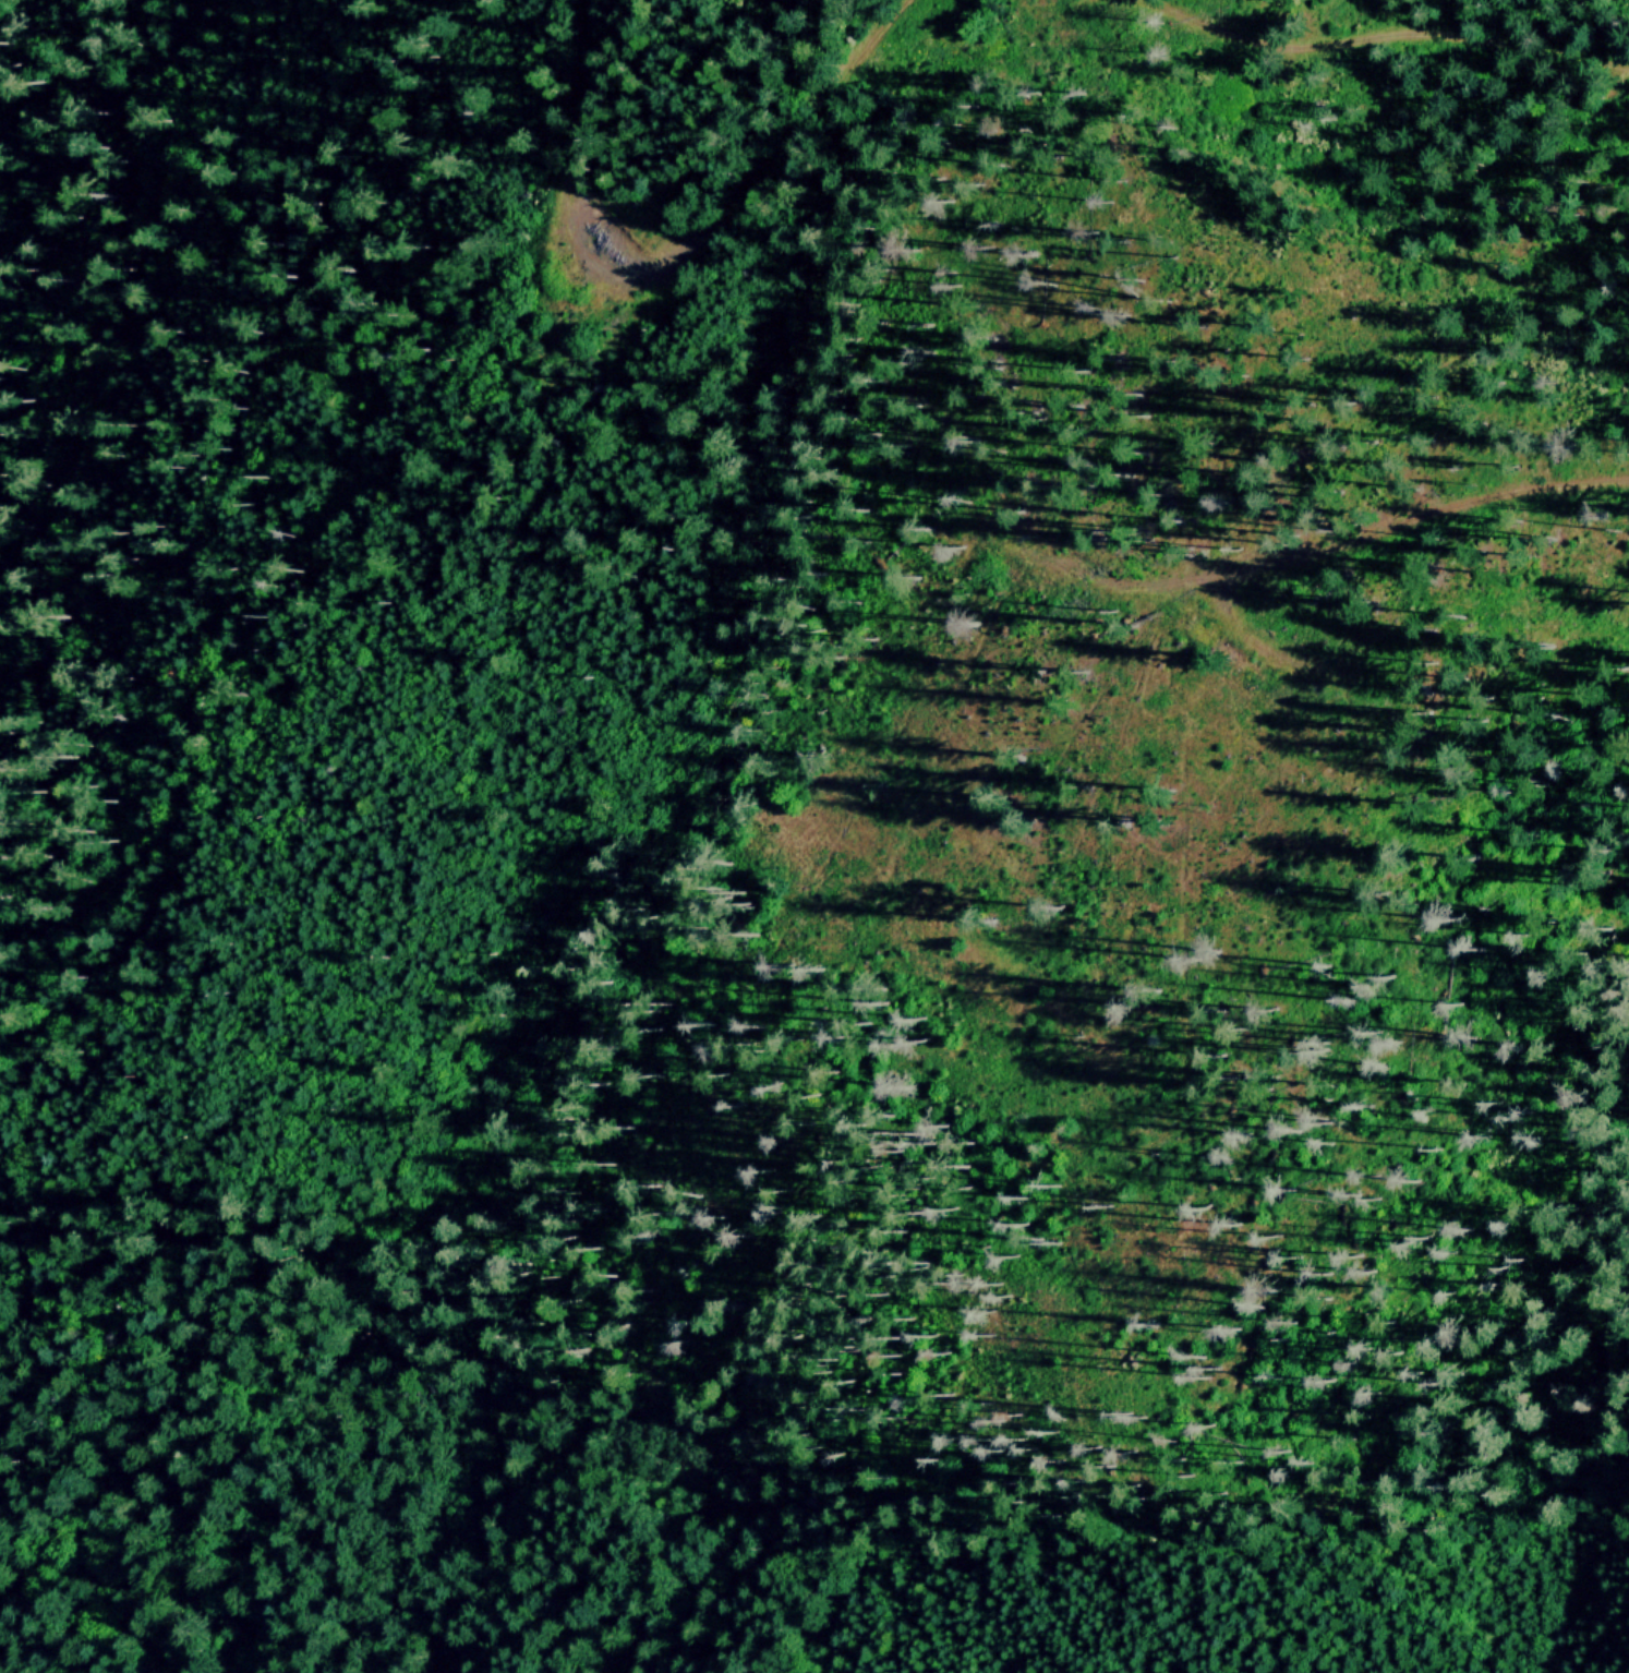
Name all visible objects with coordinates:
road: (1427, 35)
road: (669, 253)
road: (1326, 550)

